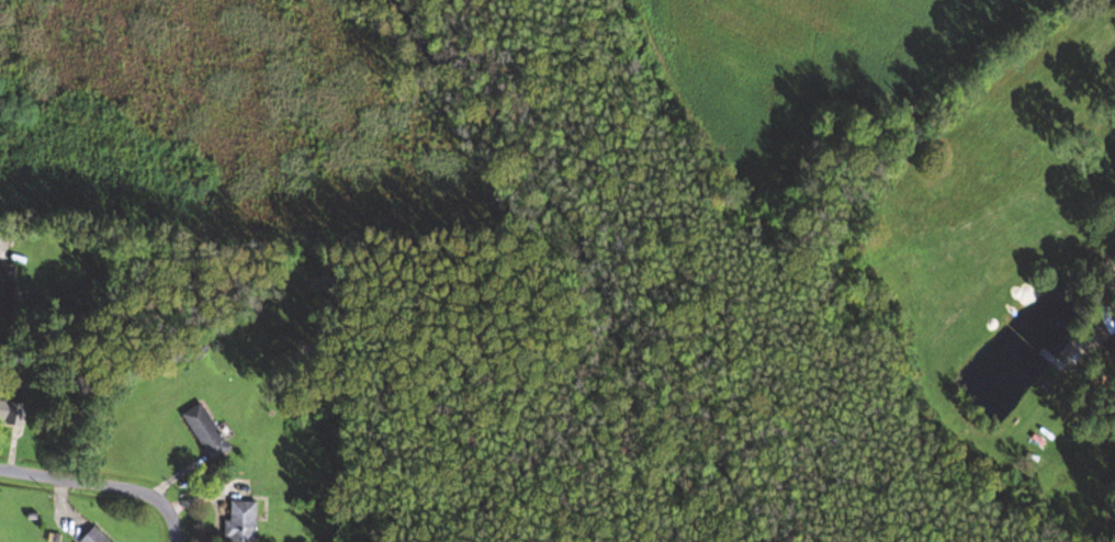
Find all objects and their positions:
building: (8, 289)
building: (14, 411)
building: (207, 431)
road: (100, 487)
building: (244, 521)
building: (97, 537)
building: (350, 540)

